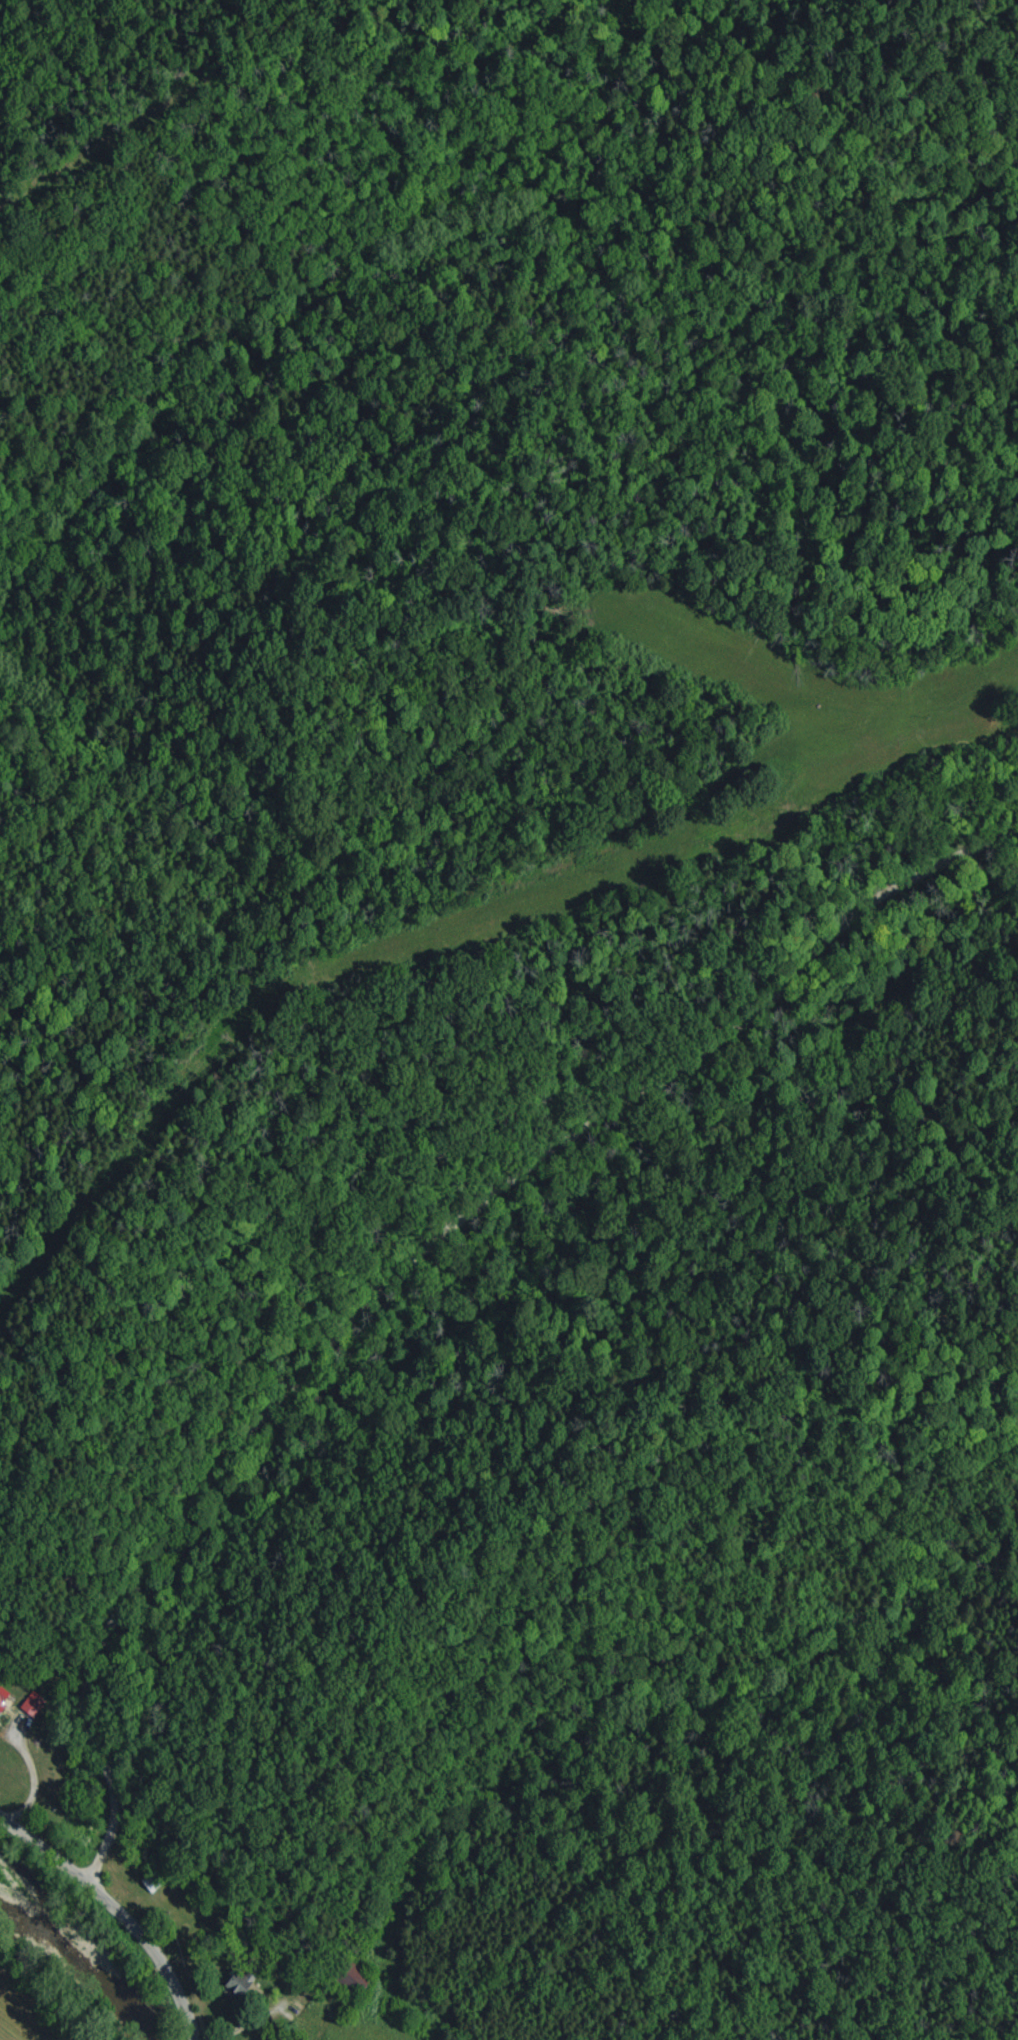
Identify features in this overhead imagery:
road: (424, 1272)
building: (3, 1699)
building: (30, 1705)
road: (117, 1920)
river: (87, 1954)

